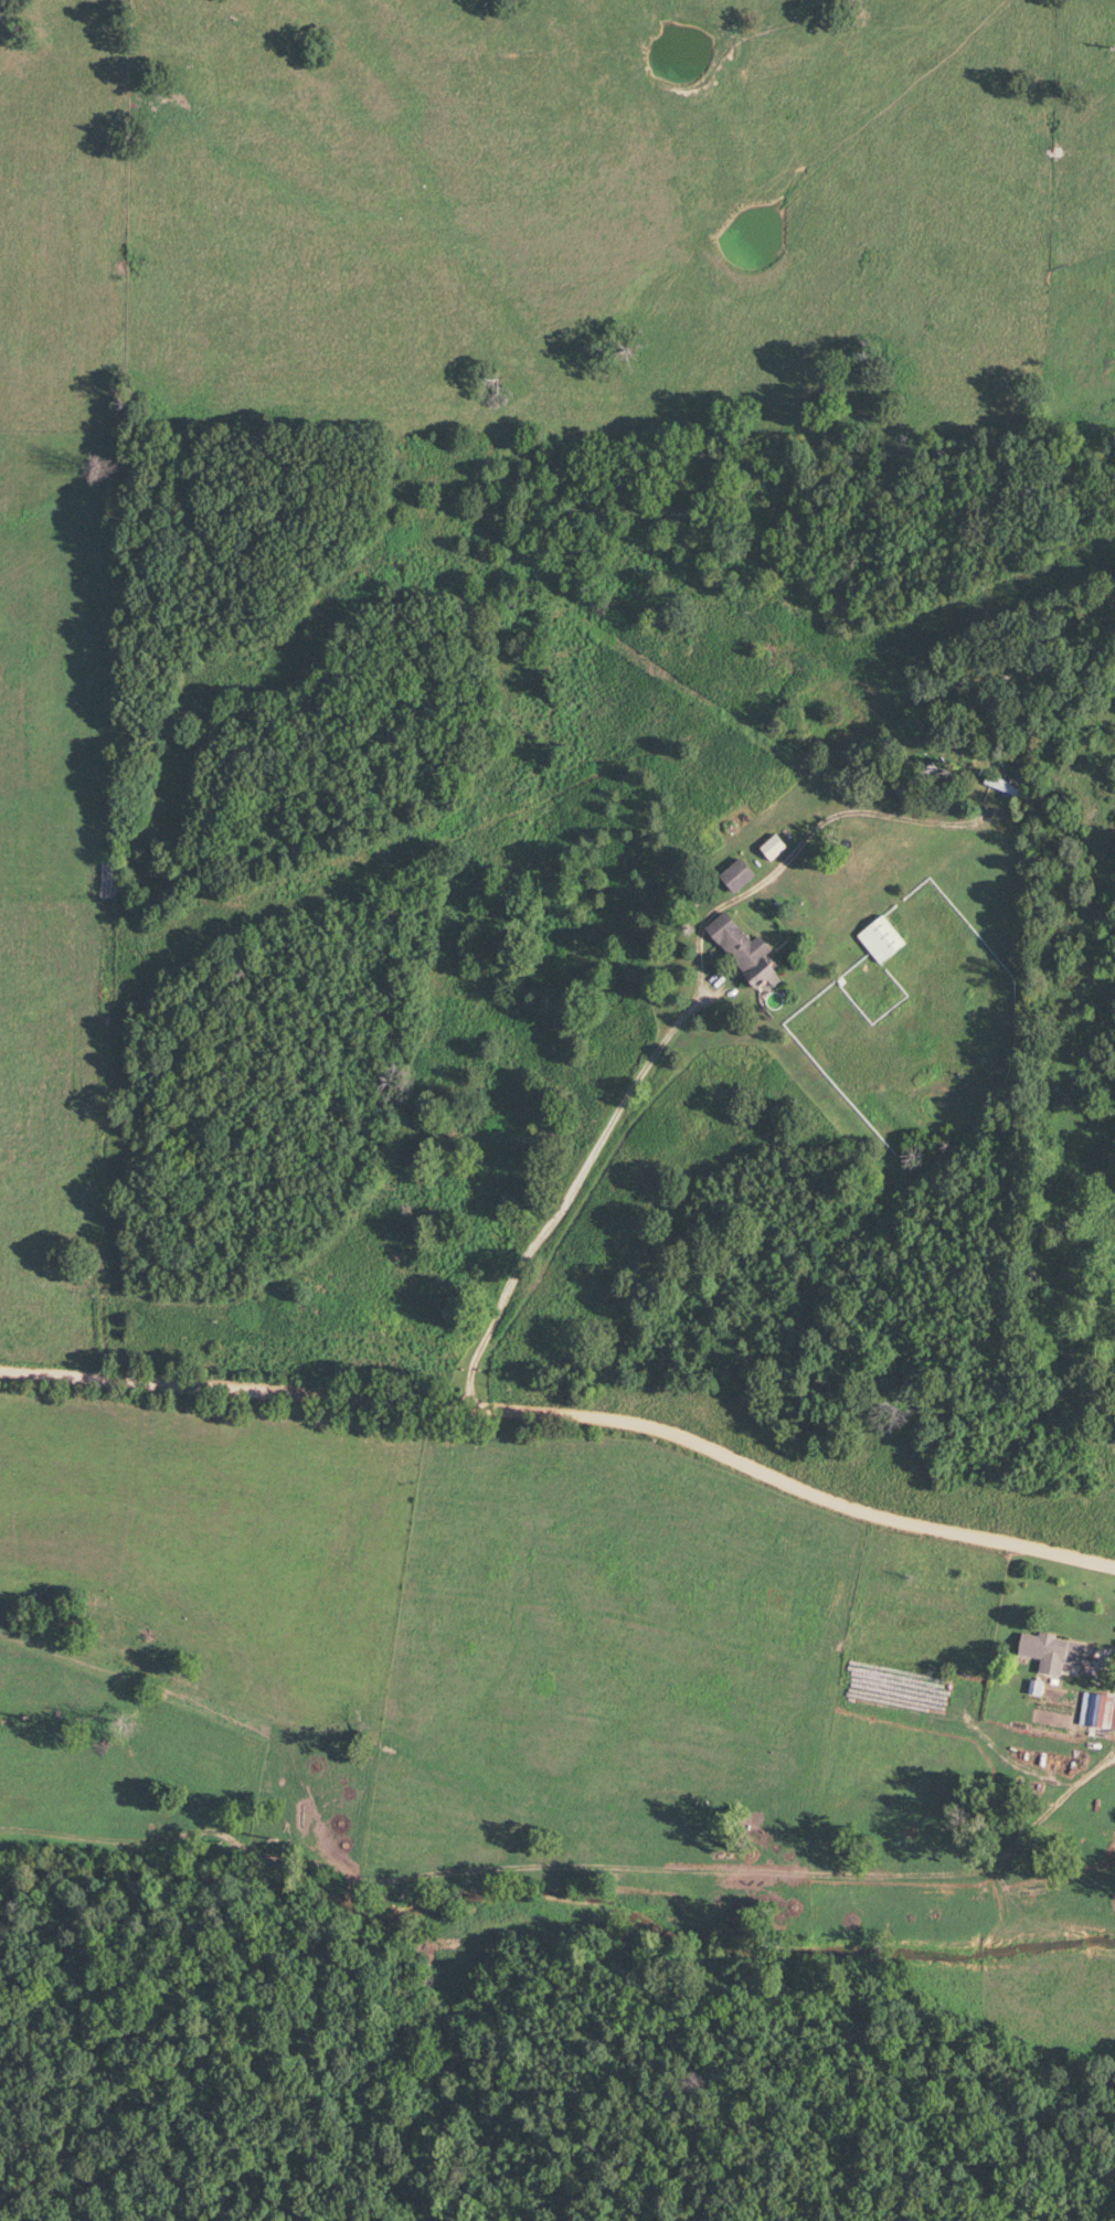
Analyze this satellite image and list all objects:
building: (1010, 785)
building: (769, 849)
building: (733, 876)
building: (878, 941)
building: (741, 953)
road: (577, 1183)
road: (567, 1416)
building: (1048, 1650)
building: (1096, 1713)

